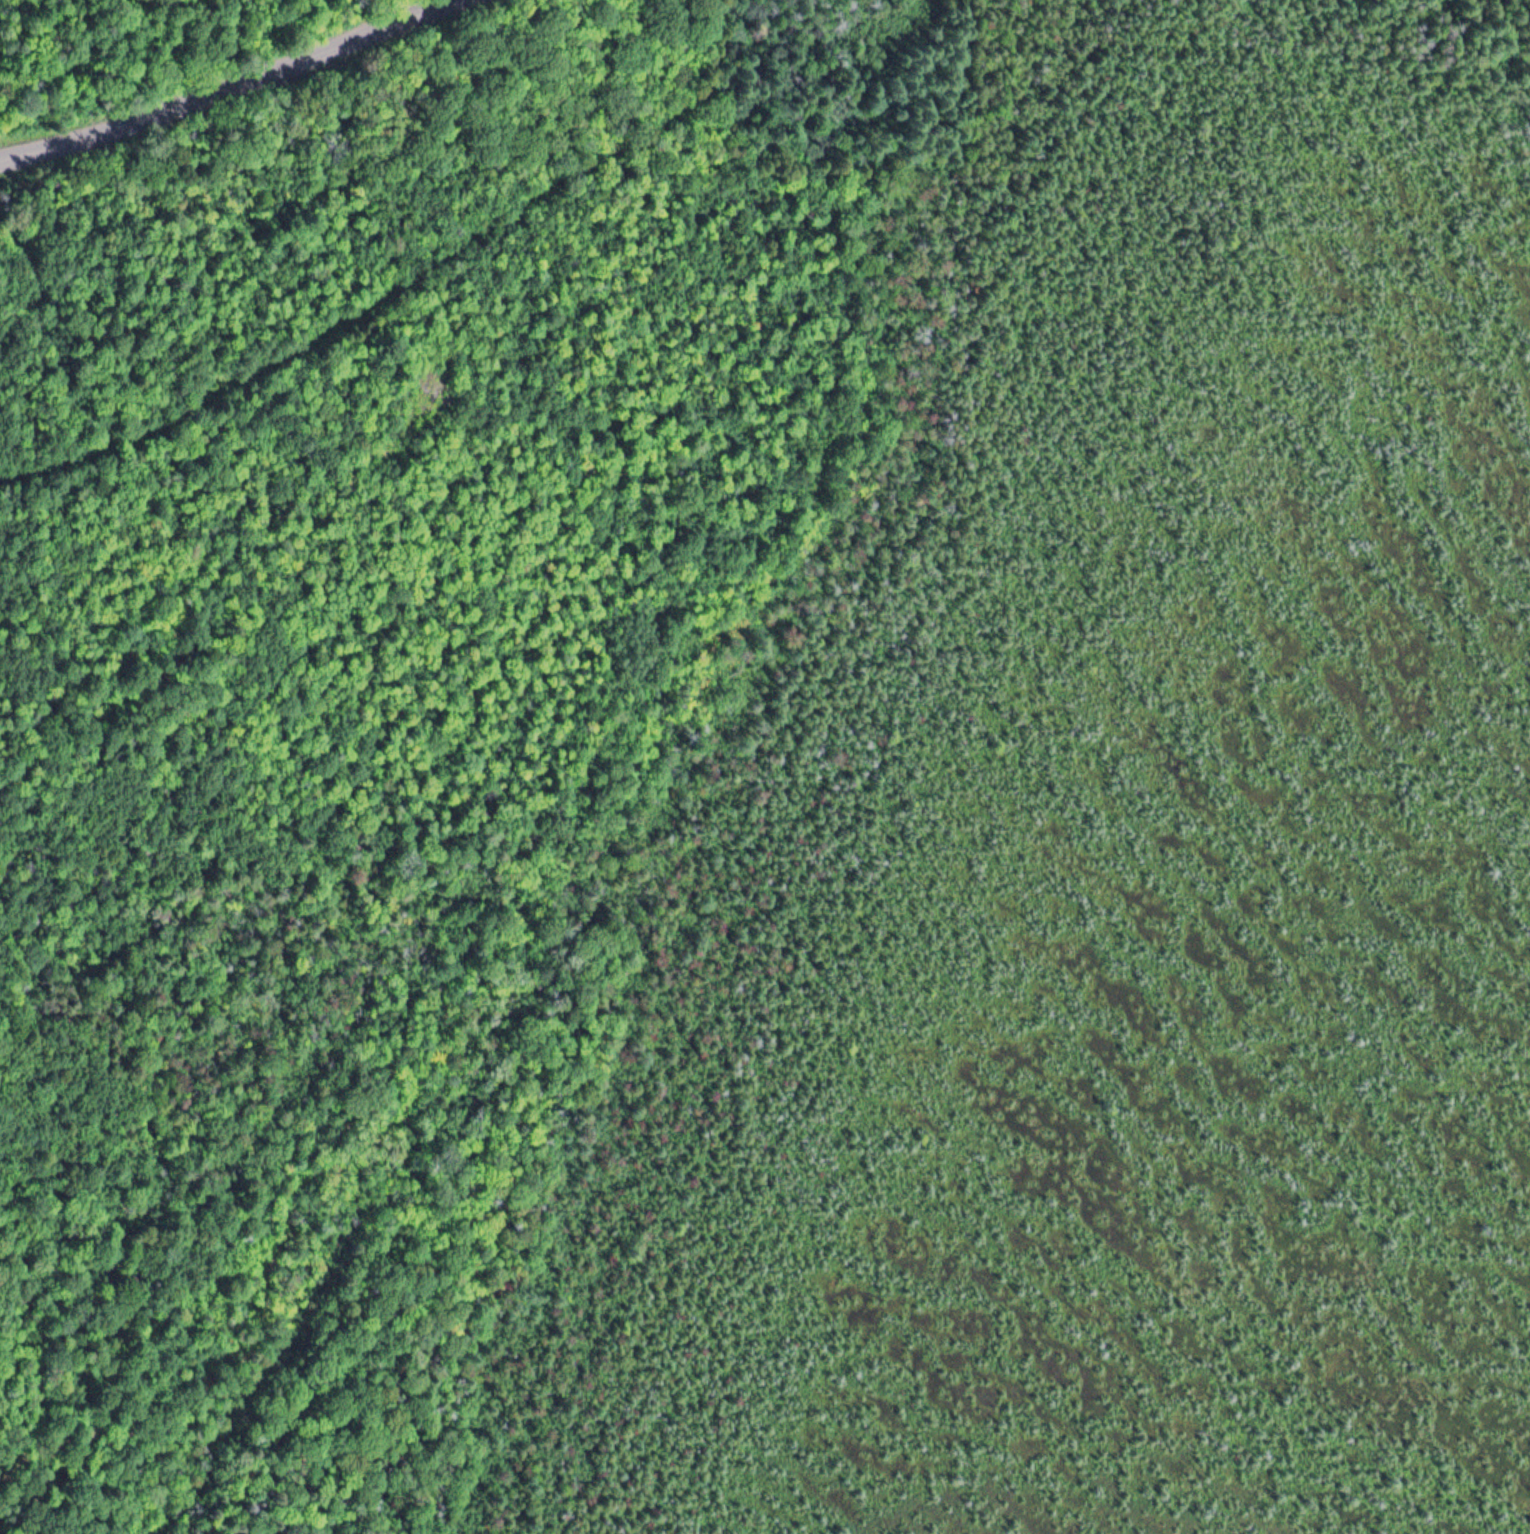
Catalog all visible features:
road: (224, 84)

